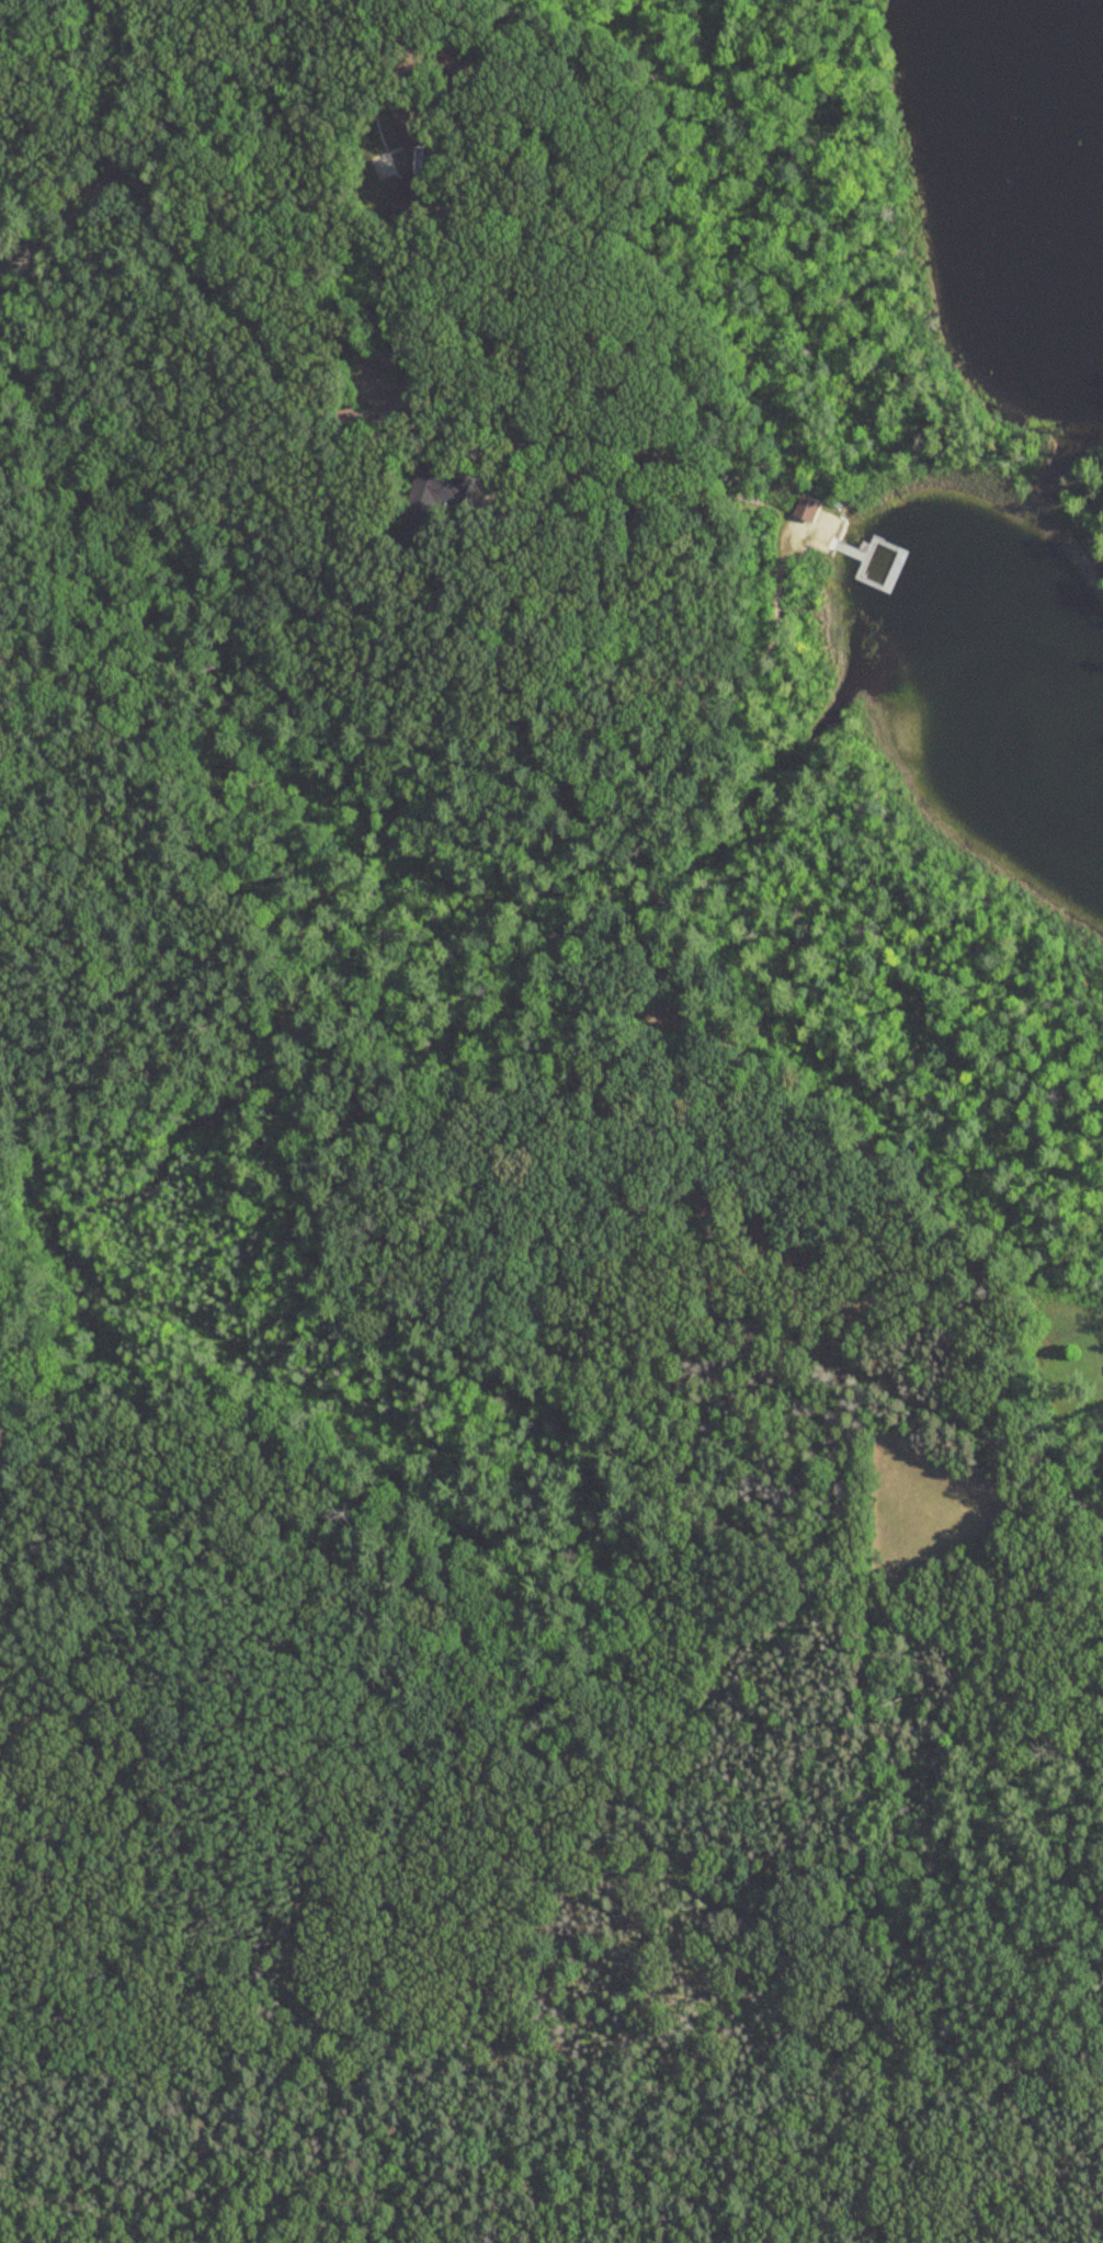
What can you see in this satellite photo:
road: (408, 69)
building: (412, 125)
building: (411, 198)
road: (532, 277)
road: (252, 312)
road: (527, 462)
road: (625, 462)
building: (658, 467)
road: (209, 490)
building: (440, 490)
building: (663, 497)
building: (809, 511)
building: (411, 537)
road: (634, 667)
road: (553, 816)
road: (129, 1093)
road: (628, 1118)
road: (572, 1164)
building: (761, 1232)
road: (805, 1606)
road: (901, 1910)
road: (769, 1925)
road: (329, 1985)
road: (411, 2152)

